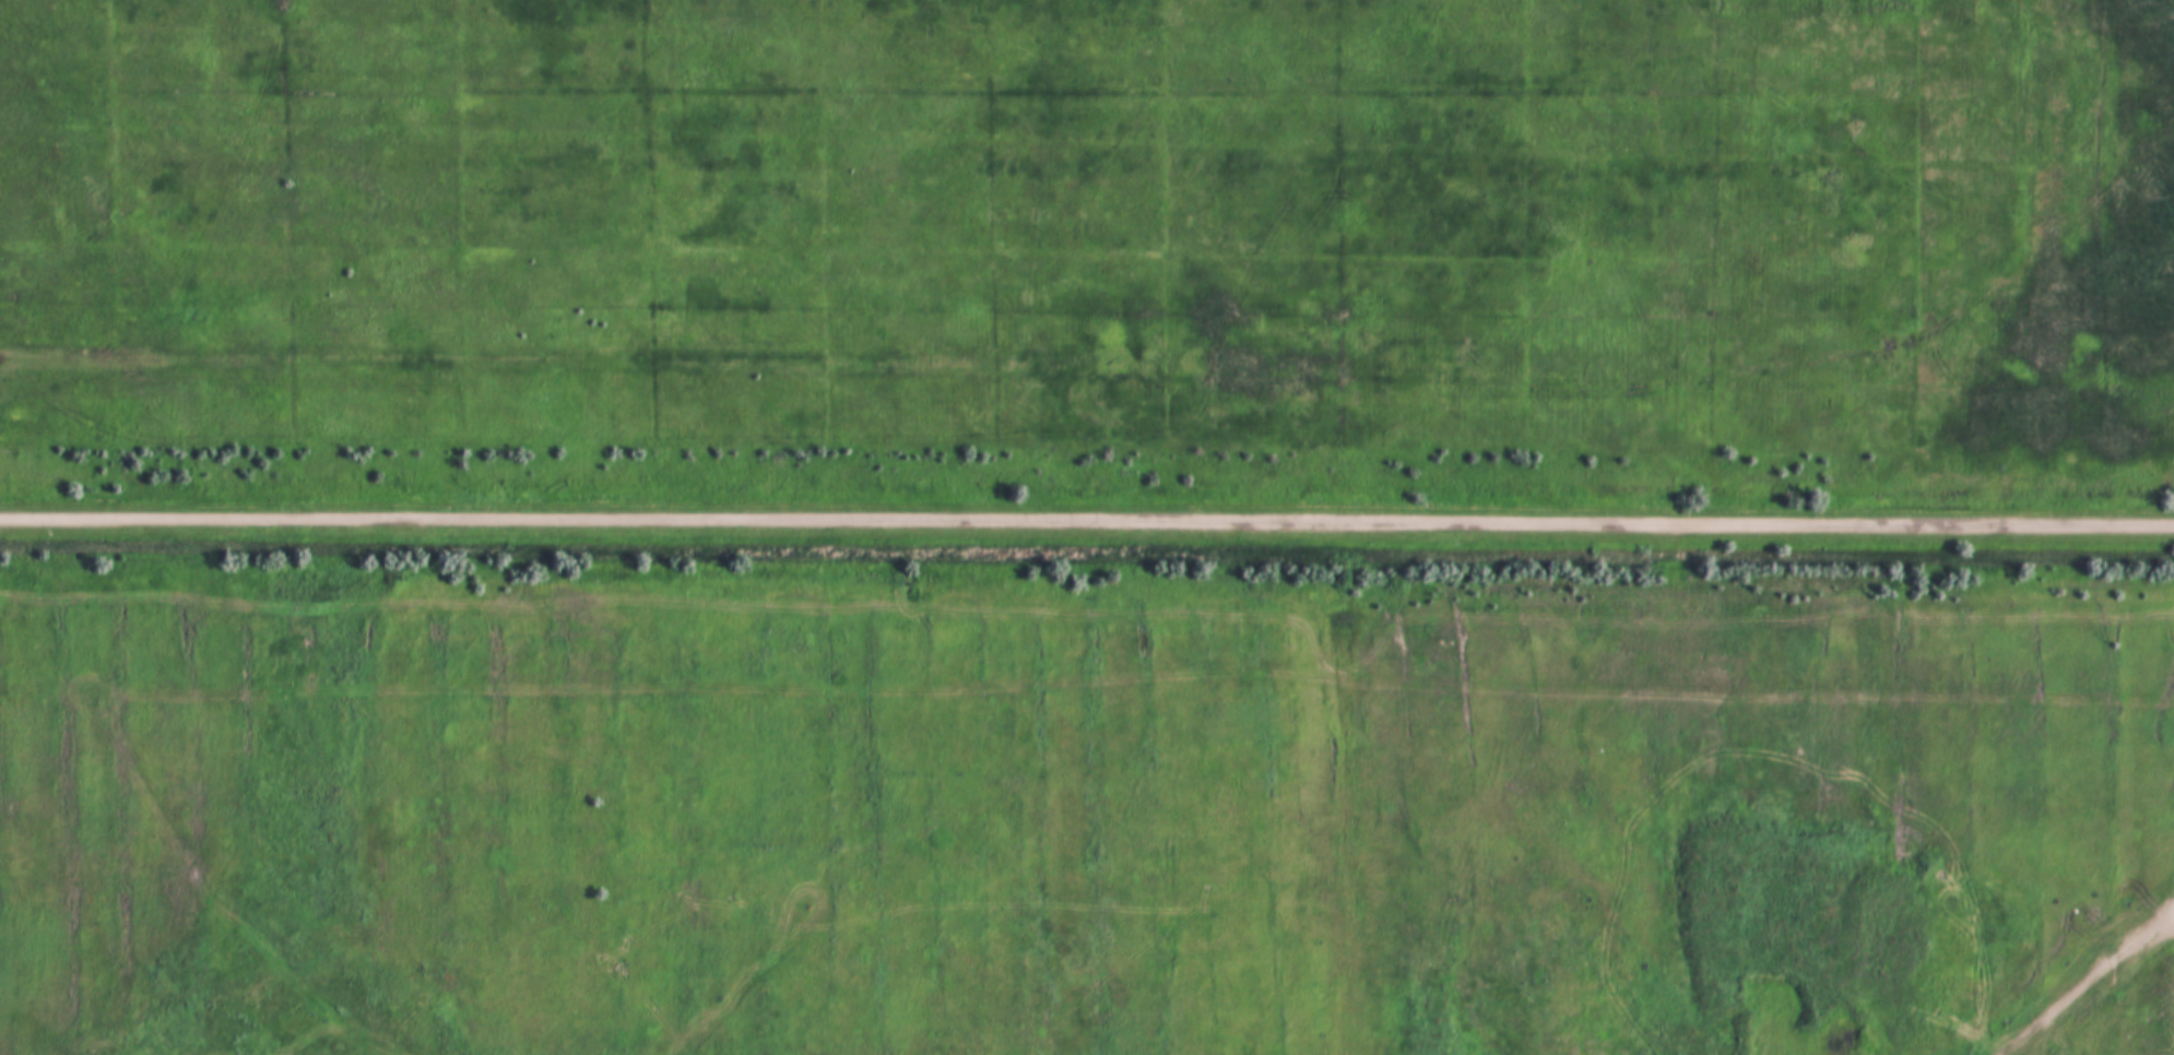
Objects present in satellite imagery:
road: (1087, 521)
road: (2106, 995)

